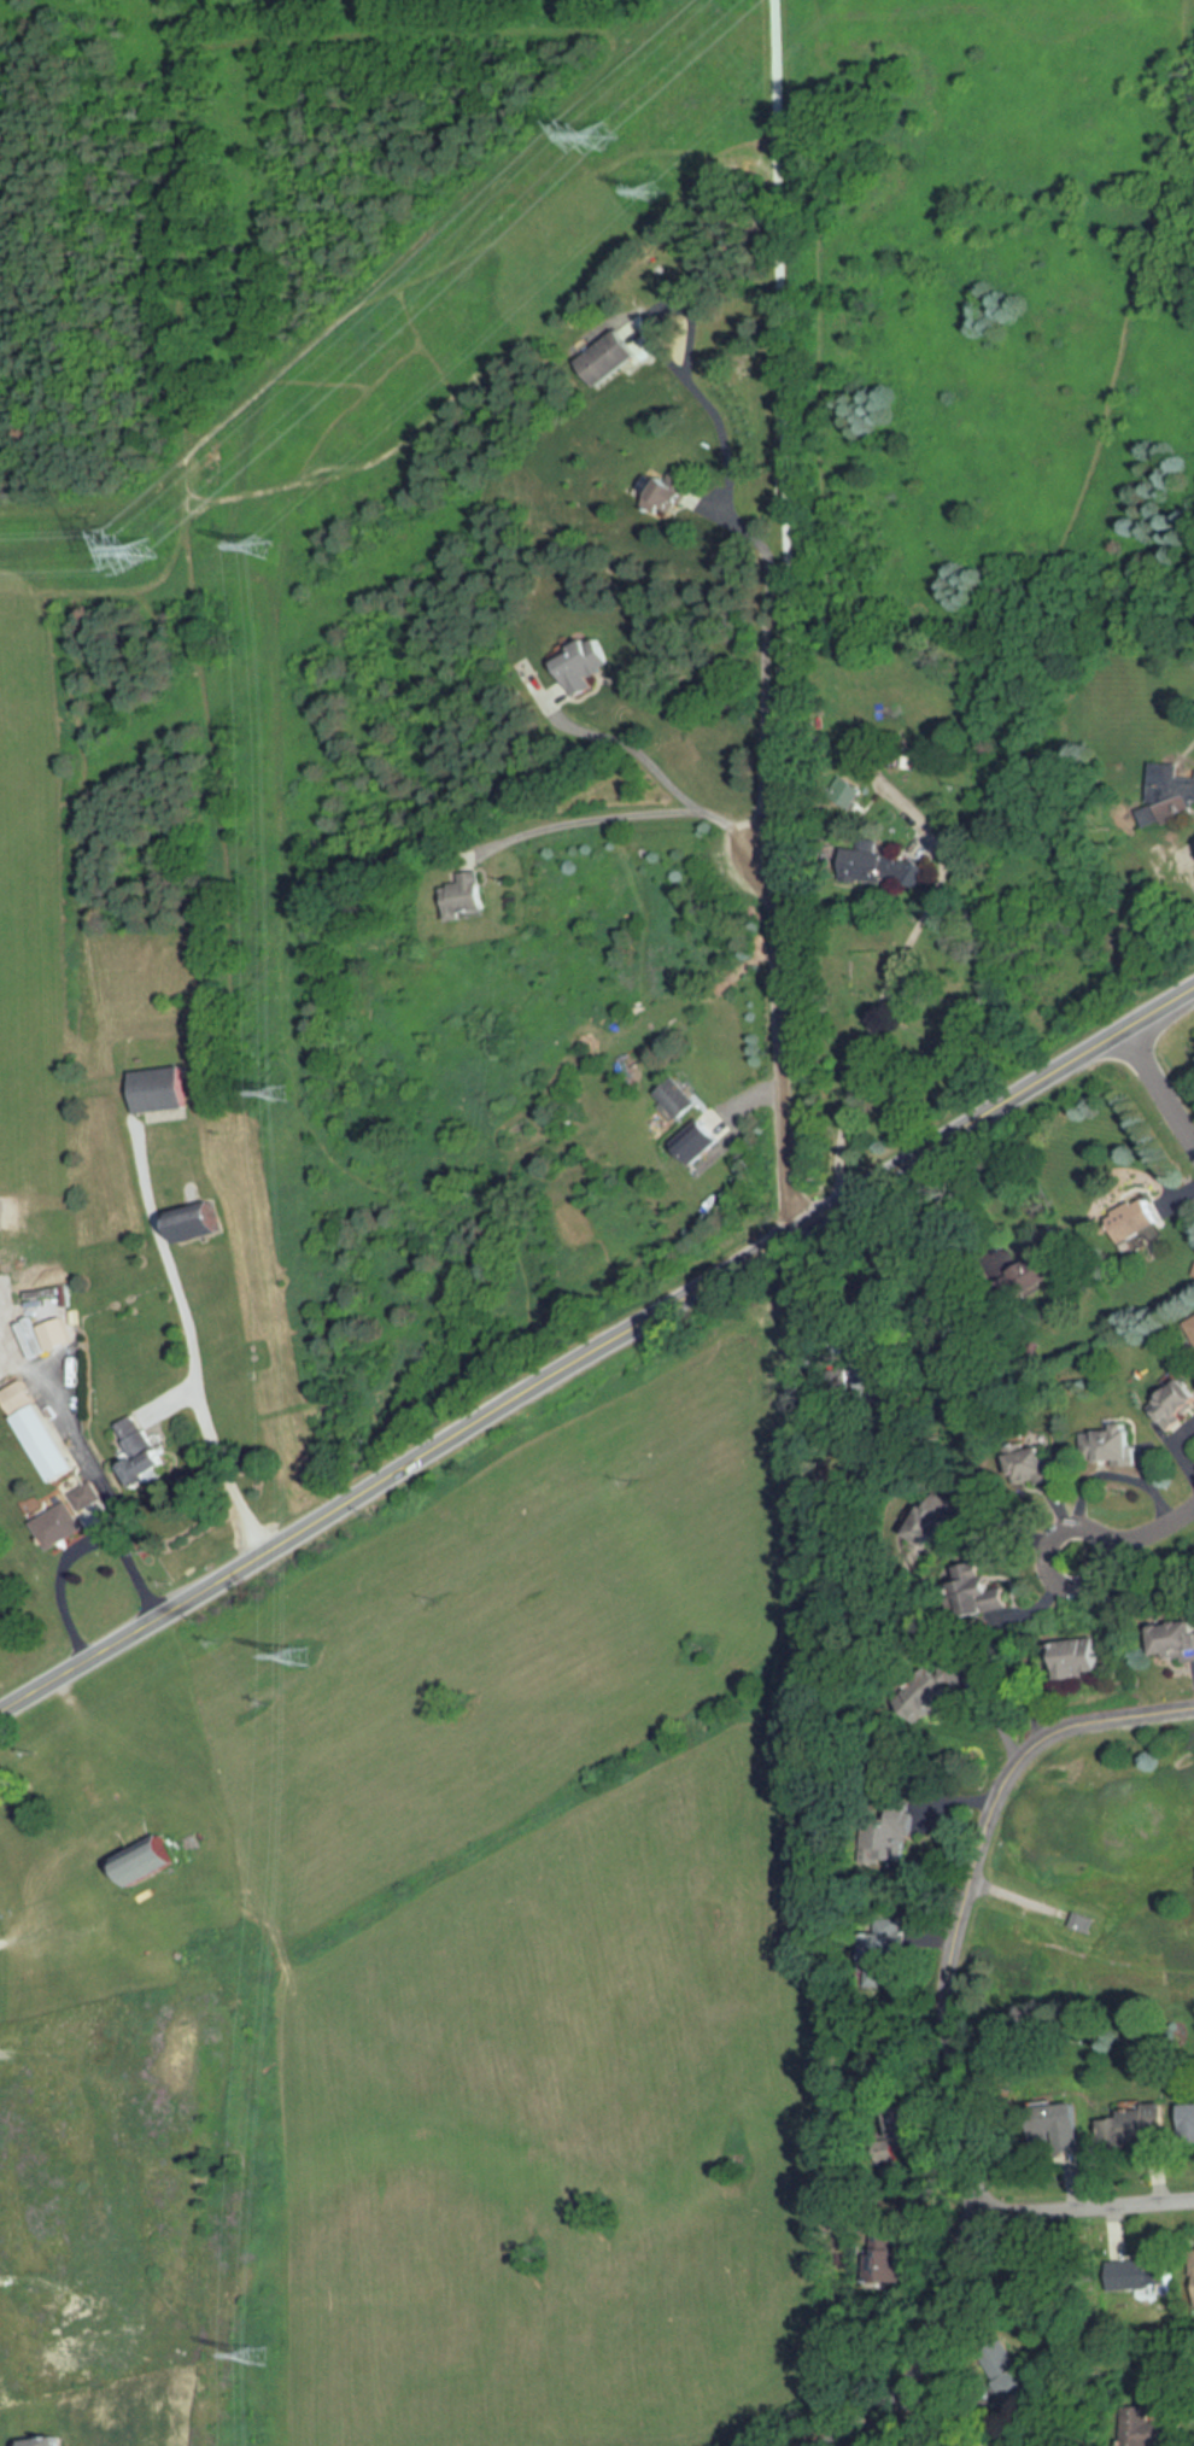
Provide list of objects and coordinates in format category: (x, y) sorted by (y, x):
power tower: (603, 141)
power tower: (659, 194)
building: (607, 359)
building: (666, 498)
power tower: (265, 550)
power tower: (150, 552)
road: (766, 561)
road: (782, 614)
building: (579, 669)
road: (651, 767)
road: (587, 819)
building: (865, 866)
building: (467, 893)
road: (892, 979)
road: (1158, 1089)
building: (162, 1090)
power tower: (283, 1094)
building: (679, 1098)
building: (704, 1143)
road: (941, 1211)
building: (201, 1222)
building: (1139, 1227)
road: (835, 1275)
building: (1190, 1327)
road: (596, 1348)
building: (1175, 1405)
road: (1183, 1440)
building: (45, 1444)
building: (1107, 1446)
building: (144, 1452)
road: (221, 1461)
building: (1040, 1469)
road: (1100, 1471)
building: (65, 1518)
road: (1135, 1538)
road: (86, 1540)
building: (982, 1591)
building: (1175, 1638)
power tower: (302, 1655)
building: (1082, 1658)
building: (151, 1859)
park: (1101, 1895)
road: (952, 2030)
building: (1188, 2118)
building: (1137, 2125)
building: (1058, 2126)
road: (1072, 2212)
building: (876, 2255)
building: (1193, 2255)
building: (1151, 2274)
power tower: (261, 2356)
road: (947, 2415)

